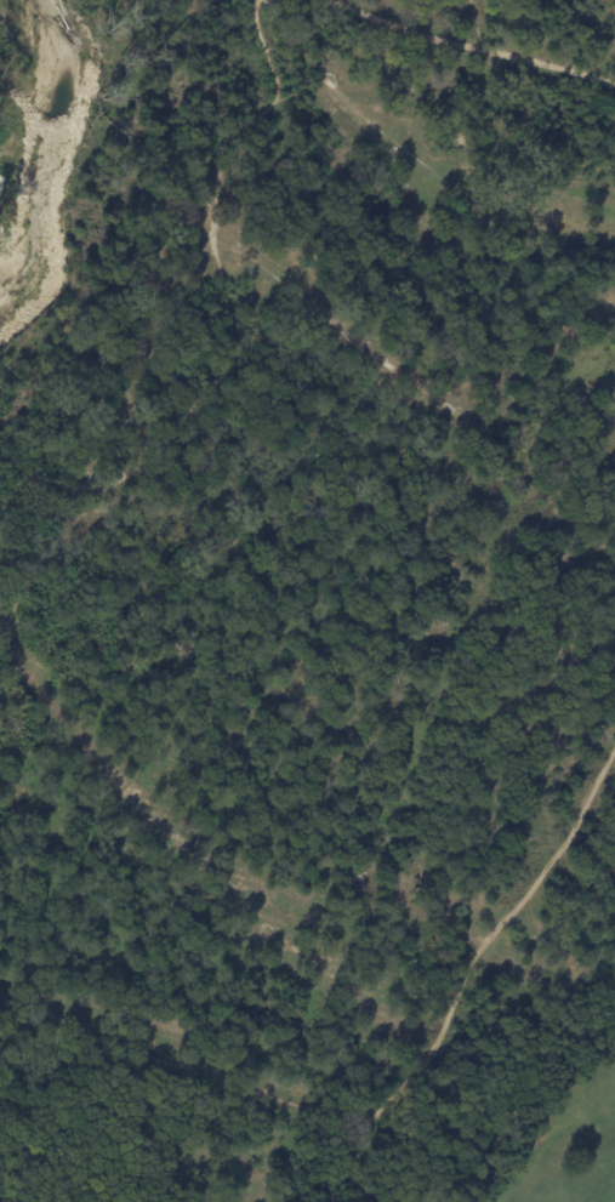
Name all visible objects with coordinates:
road: (472, 44)
road: (233, 323)
park: (300, 586)
road: (469, 973)
park: (558, 1126)

